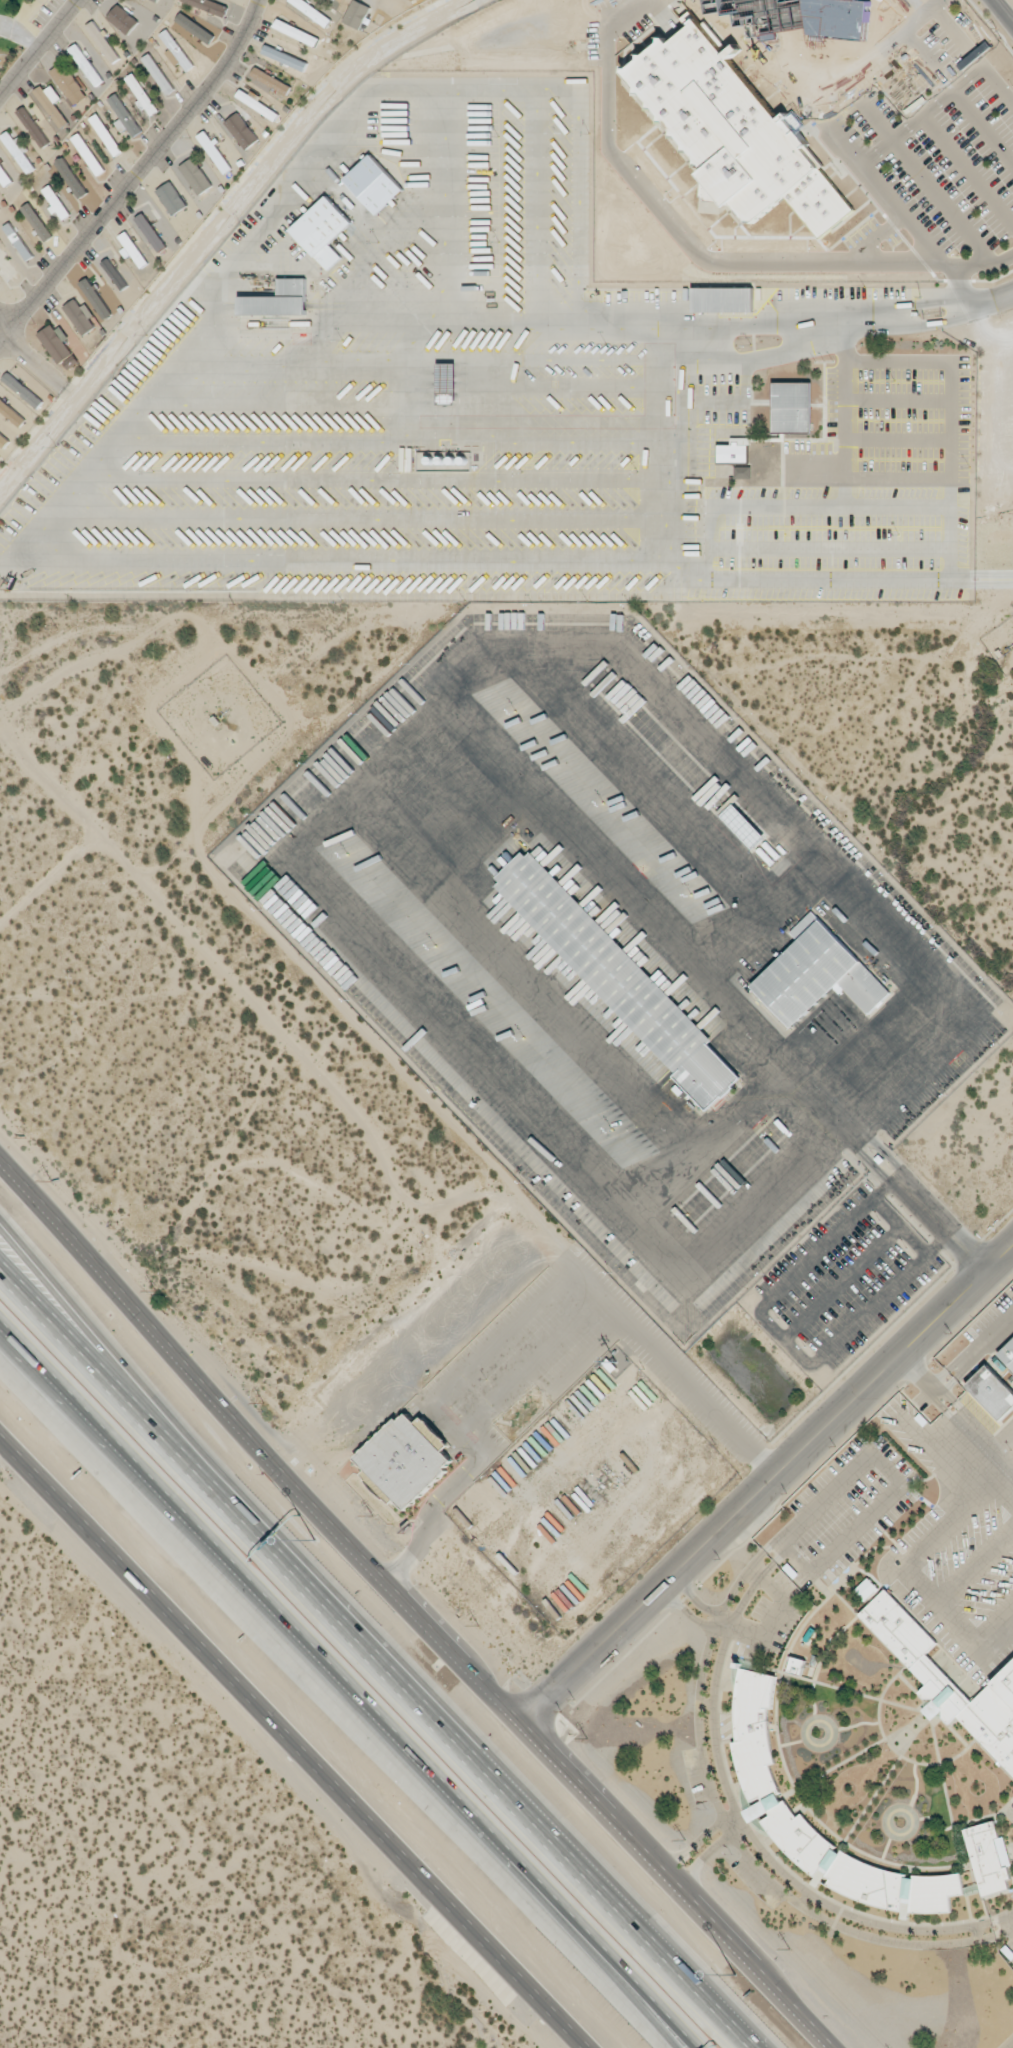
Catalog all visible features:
building: (332, 0)
road: (933, 1)
building: (209, 6)
building: (309, 9)
road: (1003, 11)
building: (356, 14)
building: (122, 19)
building: (292, 30)
building: (103, 42)
road: (36, 46)
building: (176, 51)
road: (769, 52)
road: (972, 52)
building: (285, 58)
building: (86, 65)
building: (158, 74)
building: (271, 80)
building: (68, 83)
building: (140, 94)
building: (52, 103)
building: (255, 103)
building: (124, 117)
building: (33, 127)
building: (242, 130)
building: (734, 132)
building: (105, 135)
road: (848, 151)
building: (19, 152)
building: (215, 152)
building: (87, 154)
road: (134, 175)
building: (196, 176)
building: (4, 177)
building: (71, 177)
building: (373, 184)
building: (171, 198)
building: (56, 202)
building: (37, 222)
road: (673, 227)
building: (322, 231)
building: (151, 232)
building: (131, 248)
building: (7, 267)
building: (114, 274)
road: (963, 287)
building: (96, 292)
building: (722, 299)
building: (278, 300)
building: (80, 316)
road: (777, 321)
building: (58, 346)
road: (29, 356)
road: (352, 368)
building: (23, 390)
building: (791, 407)
building: (11, 413)
building: (3, 441)
building: (733, 451)
building: (742, 472)
road: (69, 491)
building: (742, 826)
building: (816, 974)
building: (620, 978)
road: (880, 1160)
road: (526, 1310)
road: (785, 1339)
building: (1007, 1354)
building: (992, 1392)
road: (142, 1395)
building: (407, 1458)
road: (767, 1483)
building: (866, 1589)
road: (416, 1607)
road: (376, 1656)
building: (796, 1665)
building: (947, 1681)
road: (339, 1686)
road: (297, 1742)
building: (988, 1858)
road: (681, 2043)
road: (682, 2043)

